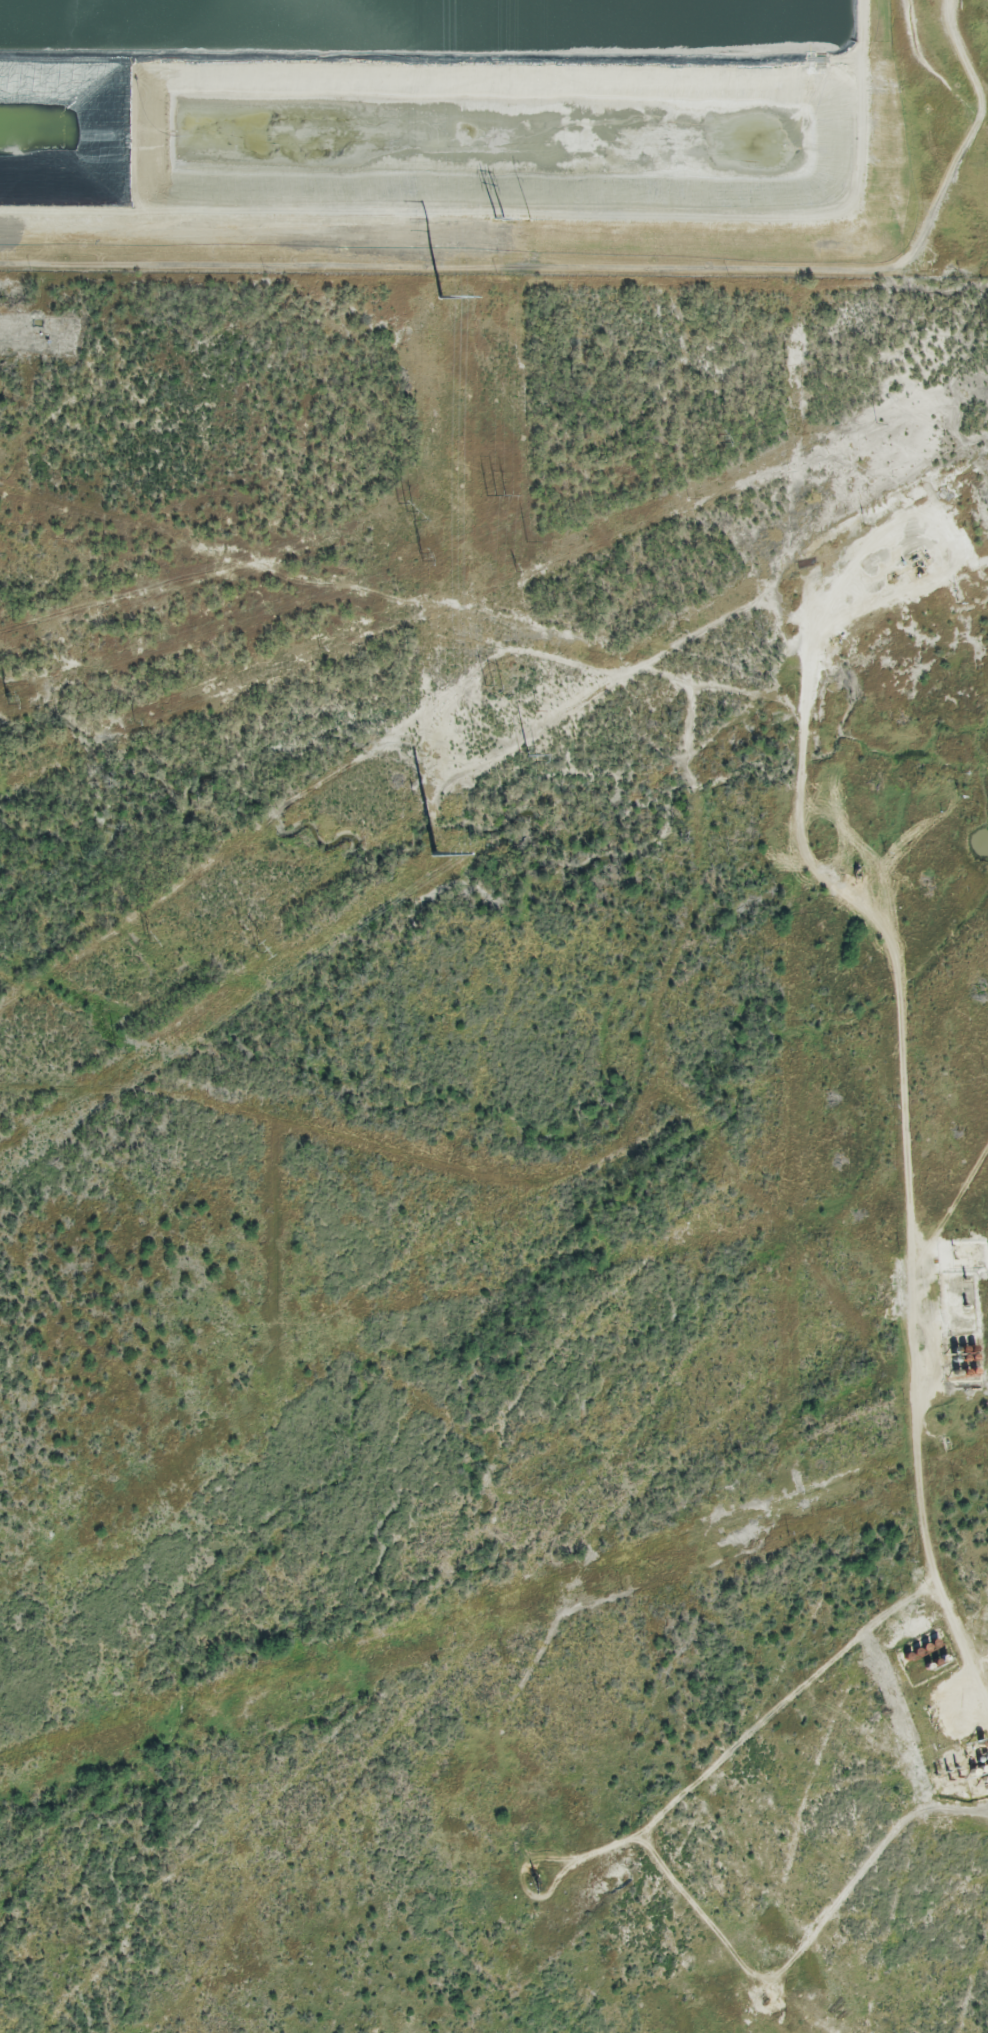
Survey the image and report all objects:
power plant: (496, 134)
power tower: (493, 218)
power tower: (528, 219)
power tower: (439, 299)
power tower: (877, 423)
power tower: (720, 439)
power tower: (493, 498)
power tower: (688, 499)
power tower: (408, 510)
power tower: (865, 525)
power tower: (526, 546)
power tower: (423, 557)
power tower: (515, 568)
power tower: (681, 631)
power tower: (319, 647)
power tower: (489, 698)
power tower: (8, 699)
power tower: (537, 711)
power tower: (134, 722)
power tower: (528, 756)
power tower: (414, 801)
power tower: (433, 855)
power tower: (239, 925)
power tower: (145, 941)
power tower: (258, 947)
power tower: (46, 1065)
road: (902, 1073)
building: (982, 1623)

